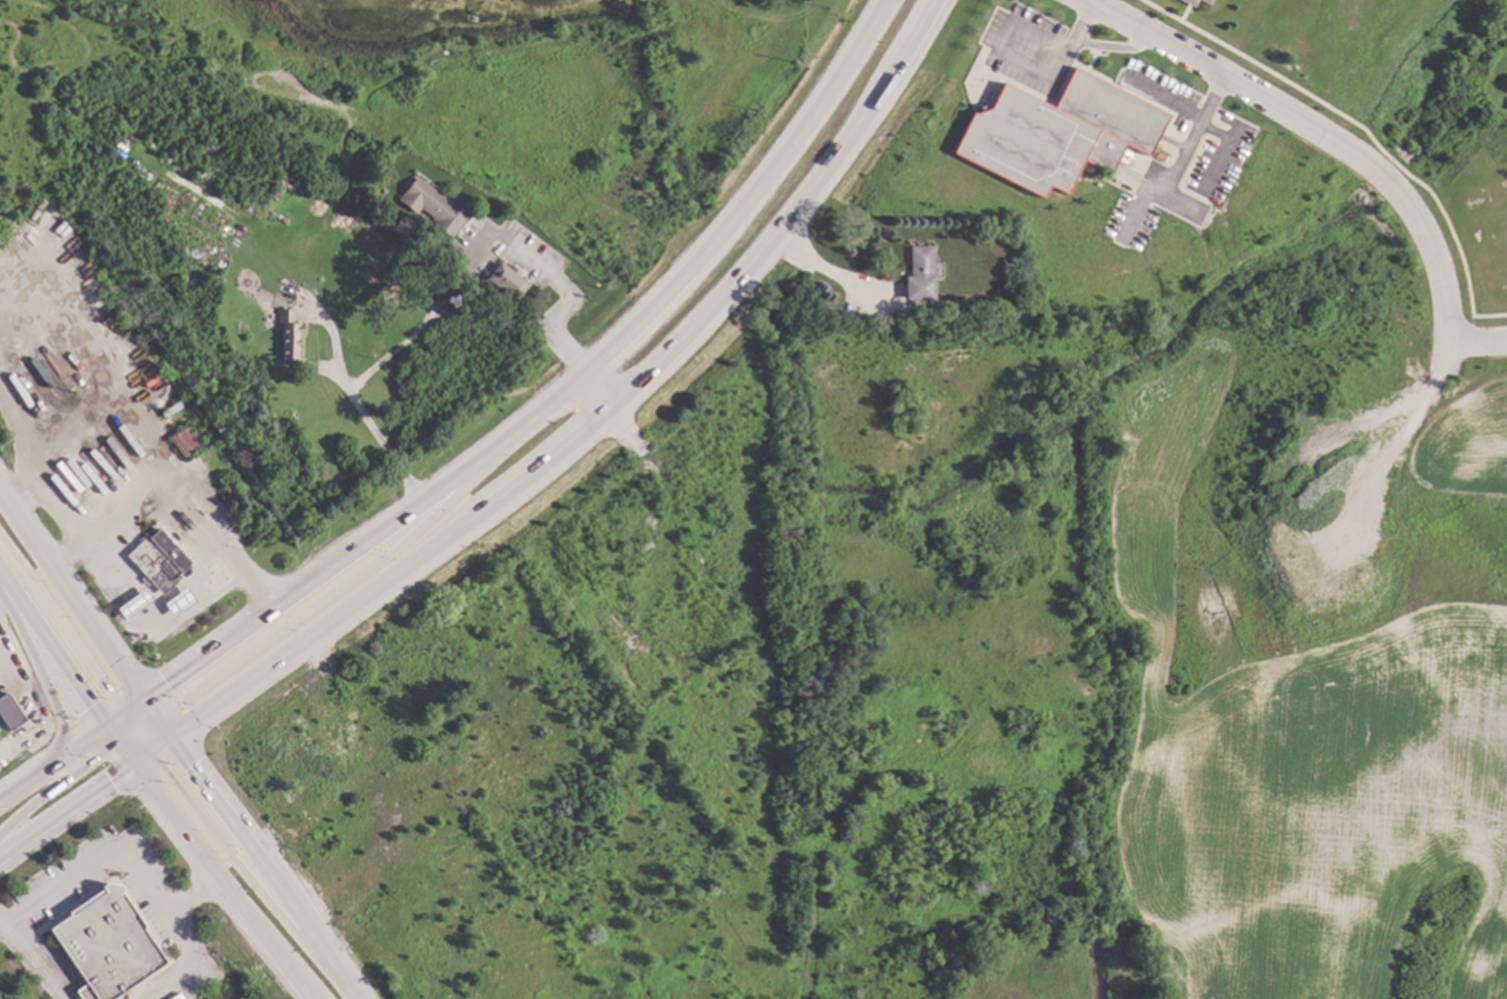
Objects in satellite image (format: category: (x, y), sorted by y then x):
building: (1204, 1)
building: (1189, 2)
road: (1084, 21)
road: (1003, 44)
road: (1114, 46)
parking lot: (1029, 49)
road: (1201, 122)
building: (1057, 133)
road: (1192, 135)
road: (1328, 137)
building: (1158, 157)
building: (434, 206)
building: (1006, 236)
building: (281, 248)
road: (830, 273)
building: (919, 275)
road: (553, 279)
building: (505, 281)
building: (287, 336)
road: (1476, 341)
road: (103, 358)
road: (599, 387)
road: (558, 394)
road: (598, 415)
road: (367, 424)
building: (663, 432)
road: (19, 434)
building: (183, 439)
crop: (1465, 446)
road: (179, 481)
road: (53, 501)
building: (156, 561)
road: (338, 591)
road: (71, 592)
building: (178, 603)
building: (132, 605)
road: (61, 625)
road: (53, 650)
road: (42, 678)
traffic signals: (143, 699)
road: (133, 706)
road: (149, 708)
building: (11, 712)
road: (139, 713)
road: (128, 719)
road: (114, 720)
road: (118, 725)
road: (149, 725)
road: (163, 727)
traffic signals: (106, 728)
road: (132, 728)
road: (138, 729)
road: (156, 734)
road: (134, 735)
road: (140, 735)
road: (112, 736)
traffic signals: (170, 736)
road: (124, 737)
road: (158, 744)
road: (142, 745)
road: (75, 747)
building: (883, 748)
road: (134, 751)
road: (124, 754)
road: (139, 758)
traffic signals: (131, 764)
crop: (1300, 764)
road: (22, 783)
road: (55, 786)
road: (64, 809)
road: (91, 864)
road: (266, 866)
road: (247, 878)
road: (219, 881)
road: (178, 935)
building: (107, 944)
road: (30, 958)

